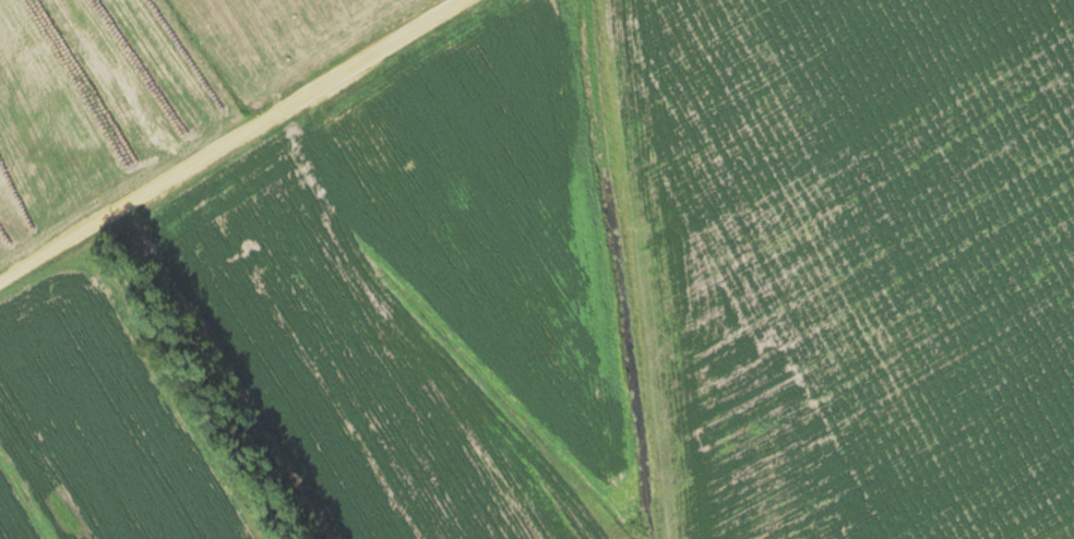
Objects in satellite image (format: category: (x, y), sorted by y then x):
road: (237, 140)

